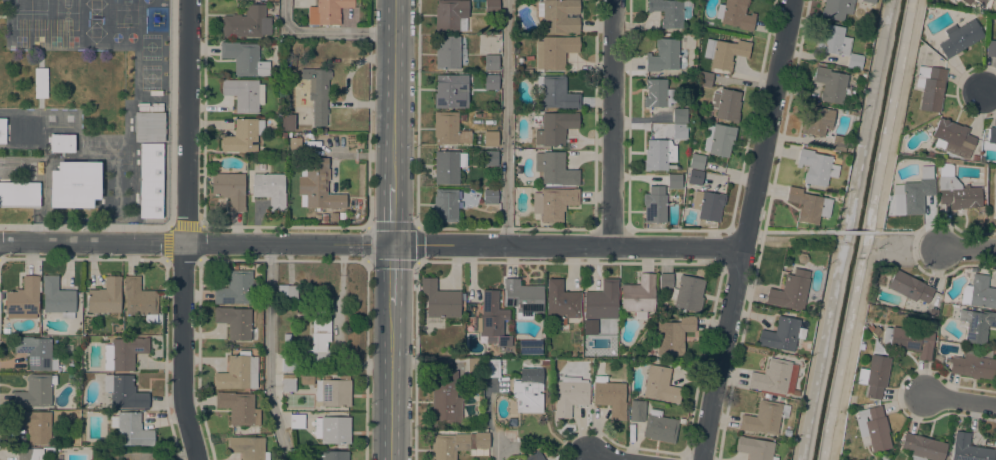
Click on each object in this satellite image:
building: (867, 1)
building: (965, 1)
building: (981, 1)
building: (492, 6)
building: (685, 9)
building: (836, 9)
building: (328, 11)
building: (667, 12)
building: (736, 14)
building: (451, 15)
building: (559, 15)
building: (247, 22)
road: (325, 30)
building: (959, 37)
building: (837, 44)
building: (991, 48)
building: (554, 51)
building: (450, 52)
building: (724, 52)
building: (663, 55)
building: (244, 58)
building: (285, 59)
building: (491, 62)
building: (704, 79)
building: (490, 81)
building: (40, 83)
building: (830, 84)
building: (930, 86)
road: (395, 92)
building: (448, 92)
building: (556, 92)
building: (317, 93)
building: (657, 93)
building: (244, 94)
road: (990, 95)
building: (726, 104)
road: (368, 113)
road: (417, 113)
building: (679, 115)
building: (462, 116)
building: (816, 120)
building: (149, 122)
building: (287, 122)
road: (504, 122)
road: (613, 122)
building: (555, 127)
building: (449, 129)
building: (322, 130)
building: (19, 131)
building: (679, 131)
building: (243, 135)
building: (283, 135)
building: (991, 135)
building: (491, 138)
building: (953, 138)
building: (719, 139)
building: (61, 142)
building: (837, 143)
building: (294, 144)
building: (658, 154)
building: (974, 157)
building: (490, 158)
building: (696, 161)
building: (448, 166)
building: (815, 166)
building: (555, 168)
building: (695, 177)
building: (150, 180)
building: (674, 181)
building: (995, 183)
building: (74, 184)
building: (317, 184)
building: (270, 188)
building: (229, 189)
building: (956, 190)
building: (915, 191)
building: (19, 194)
building: (490, 196)
building: (553, 203)
building: (655, 204)
building: (708, 204)
building: (445, 205)
building: (808, 205)
road: (393, 213)
building: (332, 216)
building: (303, 217)
building: (995, 225)
road: (746, 229)
road: (184, 230)
road: (876, 230)
road: (793, 232)
road: (857, 232)
road: (907, 232)
road: (196, 243)
traffic signals: (393, 244)
road: (568, 244)
road: (968, 246)
building: (801, 258)
road: (418, 261)
road: (393, 275)
building: (665, 280)
building: (909, 287)
building: (235, 288)
building: (790, 290)
building: (287, 291)
building: (979, 292)
building: (687, 293)
building: (638, 295)
building: (105, 296)
building: (57, 297)
building: (522, 297)
building: (23, 299)
building: (139, 299)
building: (440, 300)
building: (561, 300)
building: (601, 301)
road: (366, 310)
building: (933, 312)
building: (235, 322)
building: (494, 322)
building: (975, 323)
building: (872, 330)
building: (780, 334)
building: (672, 335)
building: (318, 338)
building: (286, 339)
building: (909, 340)
building: (529, 347)
building: (36, 352)
building: (124, 353)
road: (266, 353)
building: (938, 359)
road: (417, 361)
building: (288, 363)
building: (973, 363)
building: (542, 368)
building: (491, 369)
building: (474, 371)
building: (238, 372)
building: (524, 373)
building: (876, 374)
building: (774, 378)
building: (306, 379)
road: (392, 383)
building: (288, 384)
building: (660, 384)
building: (35, 391)
building: (124, 391)
building: (332, 391)
building: (570, 394)
building: (527, 395)
building: (445, 396)
building: (610, 396)
road: (958, 398)
building: (851, 399)
building: (239, 407)
building: (637, 410)
building: (764, 417)
building: (297, 421)
building: (35, 425)
building: (660, 426)
building: (872, 428)
building: (131, 429)
building: (333, 430)
building: (456, 444)
road: (497, 446)
building: (248, 447)
building: (923, 447)
building: (755, 448)
building: (969, 449)
building: (30, 454)
building: (334, 455)
building: (537, 457)
road: (607, 457)
building: (883, 457)

